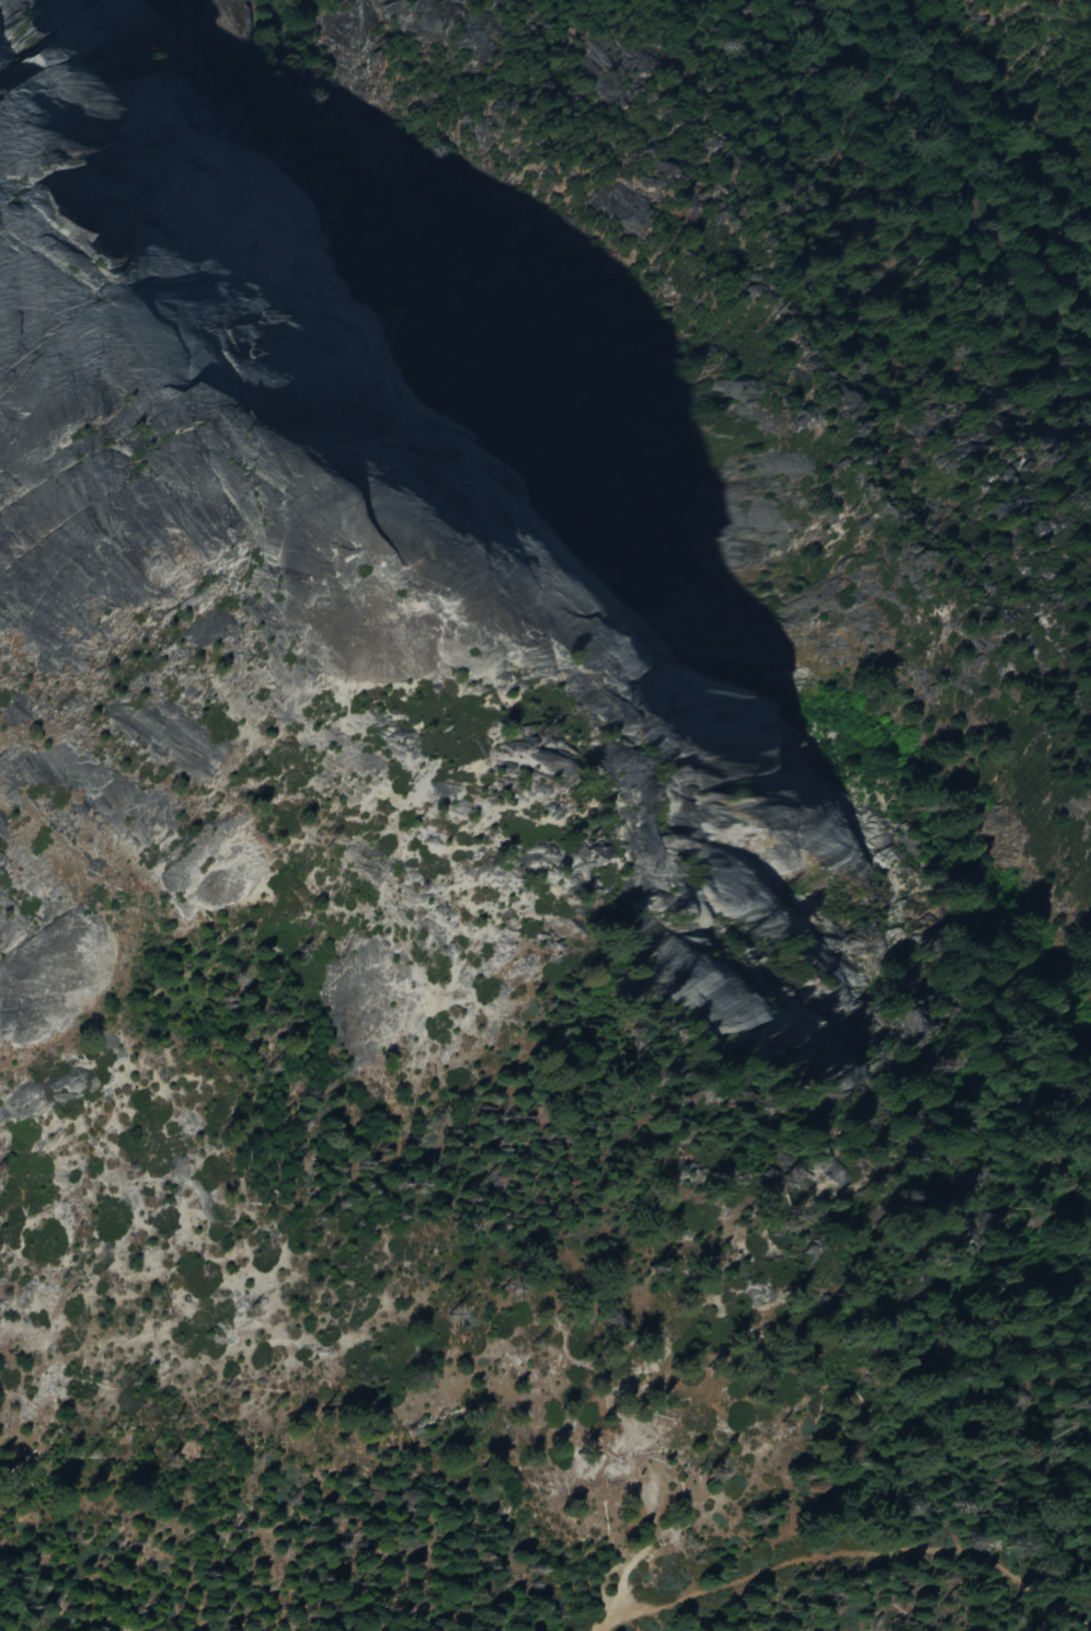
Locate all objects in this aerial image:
road: (654, 1526)
road: (849, 1558)

